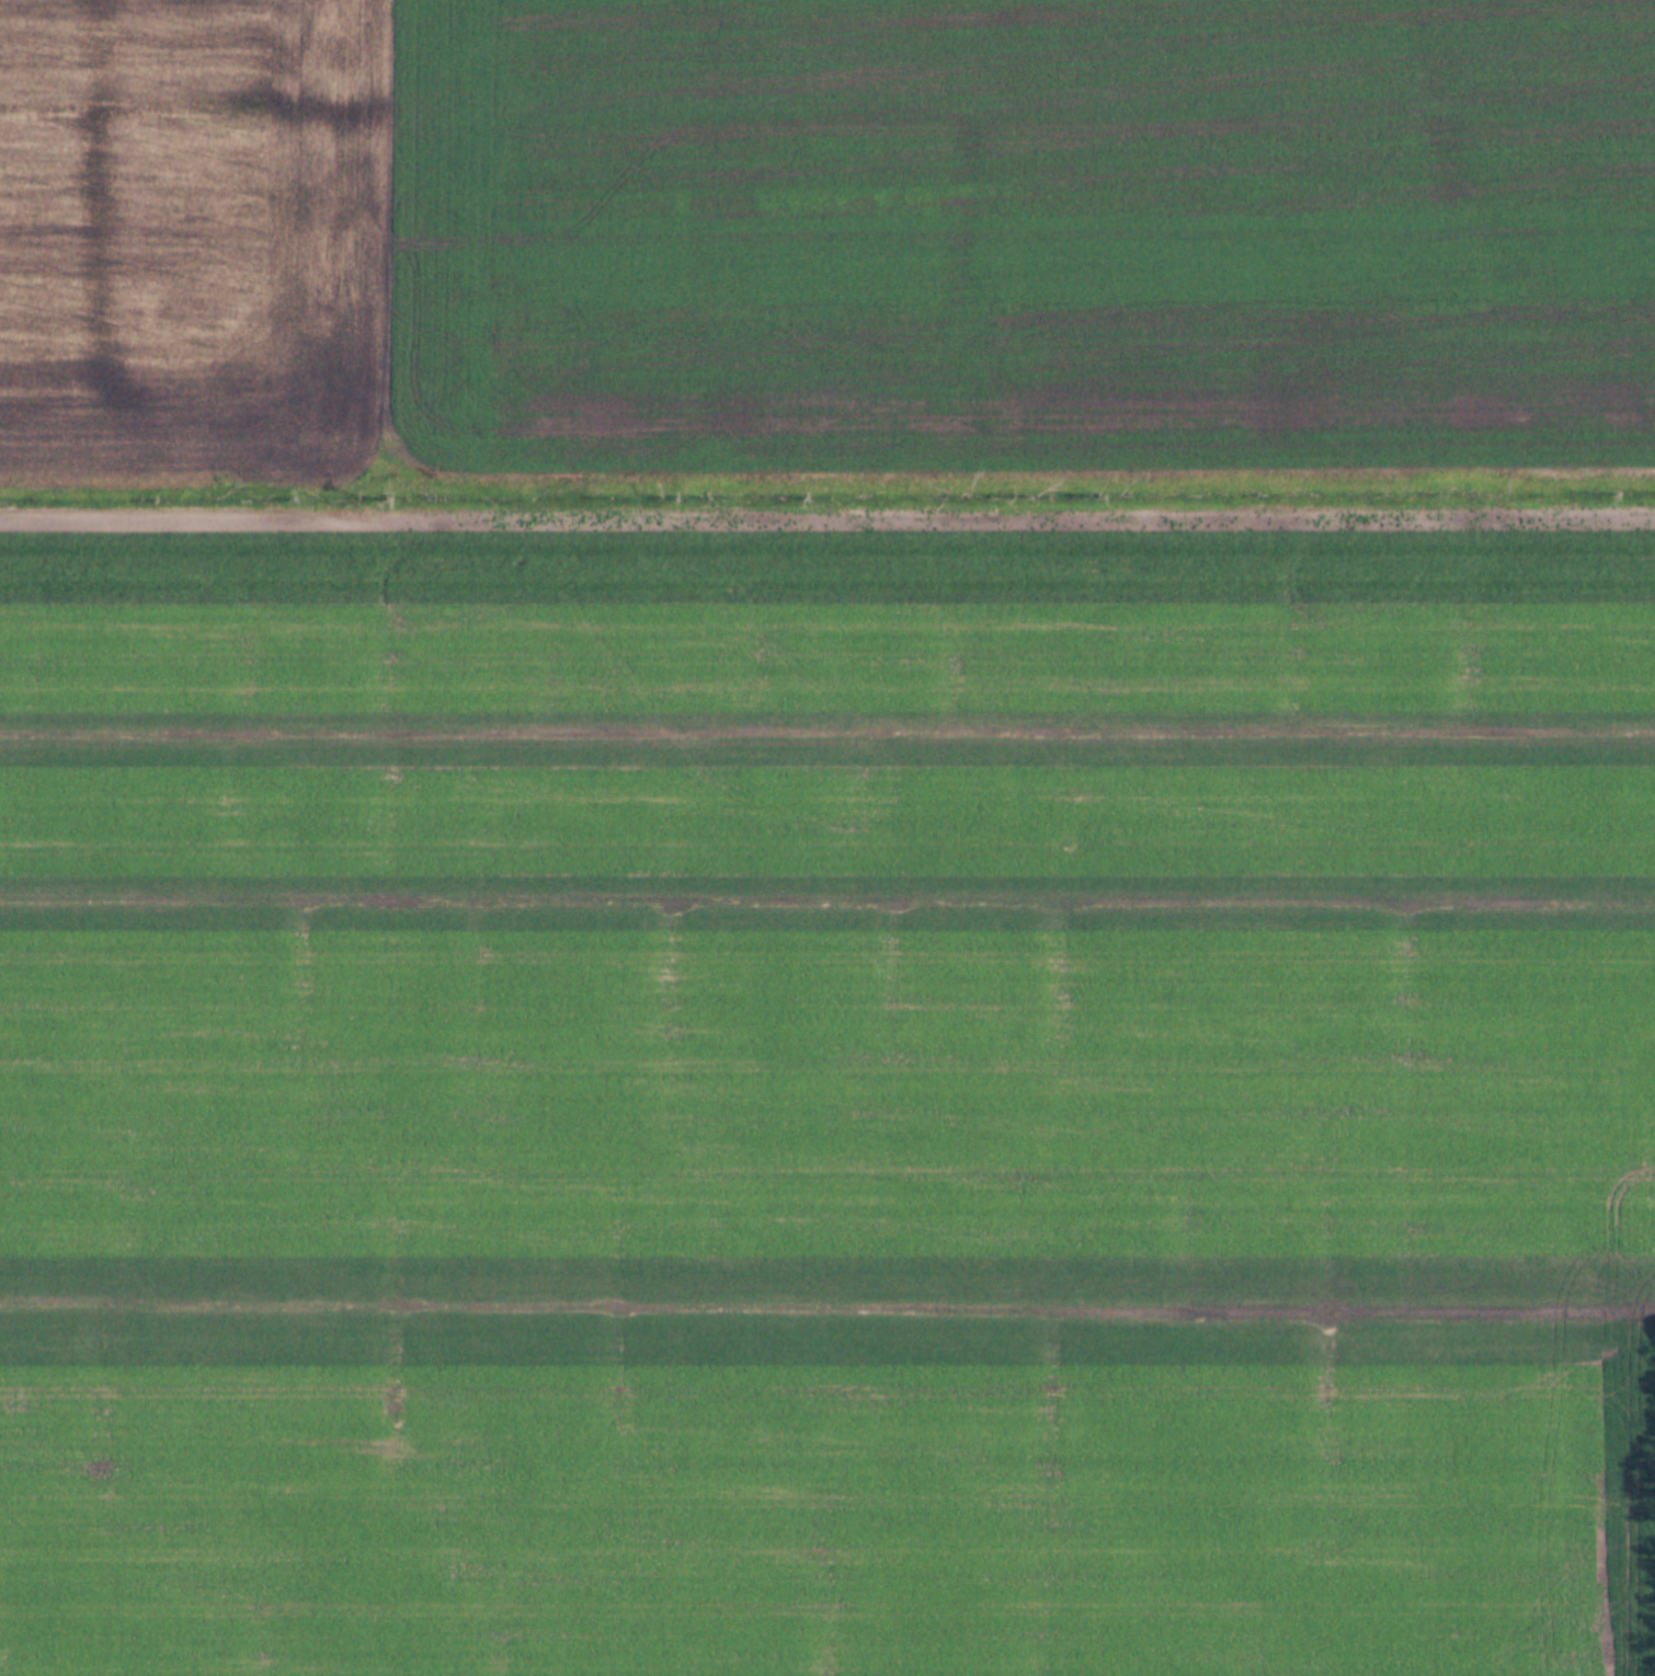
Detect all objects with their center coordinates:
crop: (825, 251)
crop: (827, 1089)

